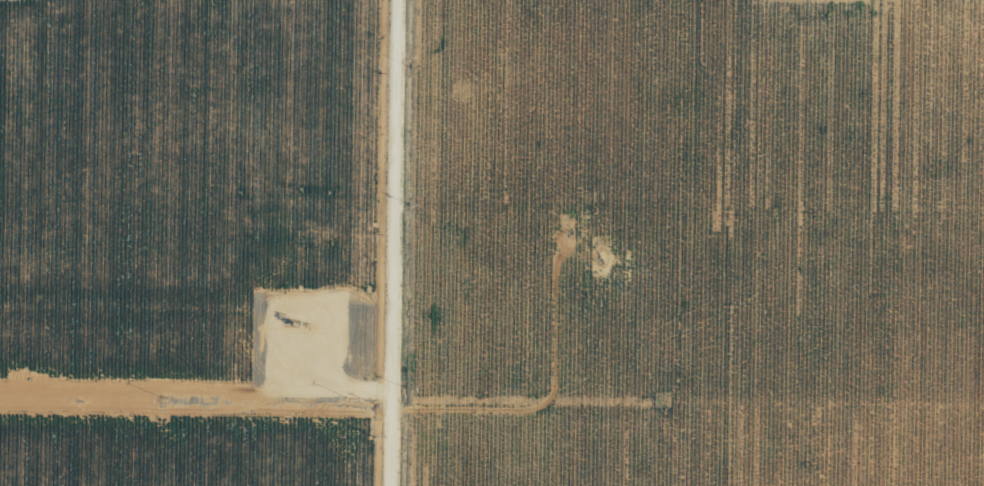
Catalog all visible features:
road: (395, 243)
road: (197, 314)

